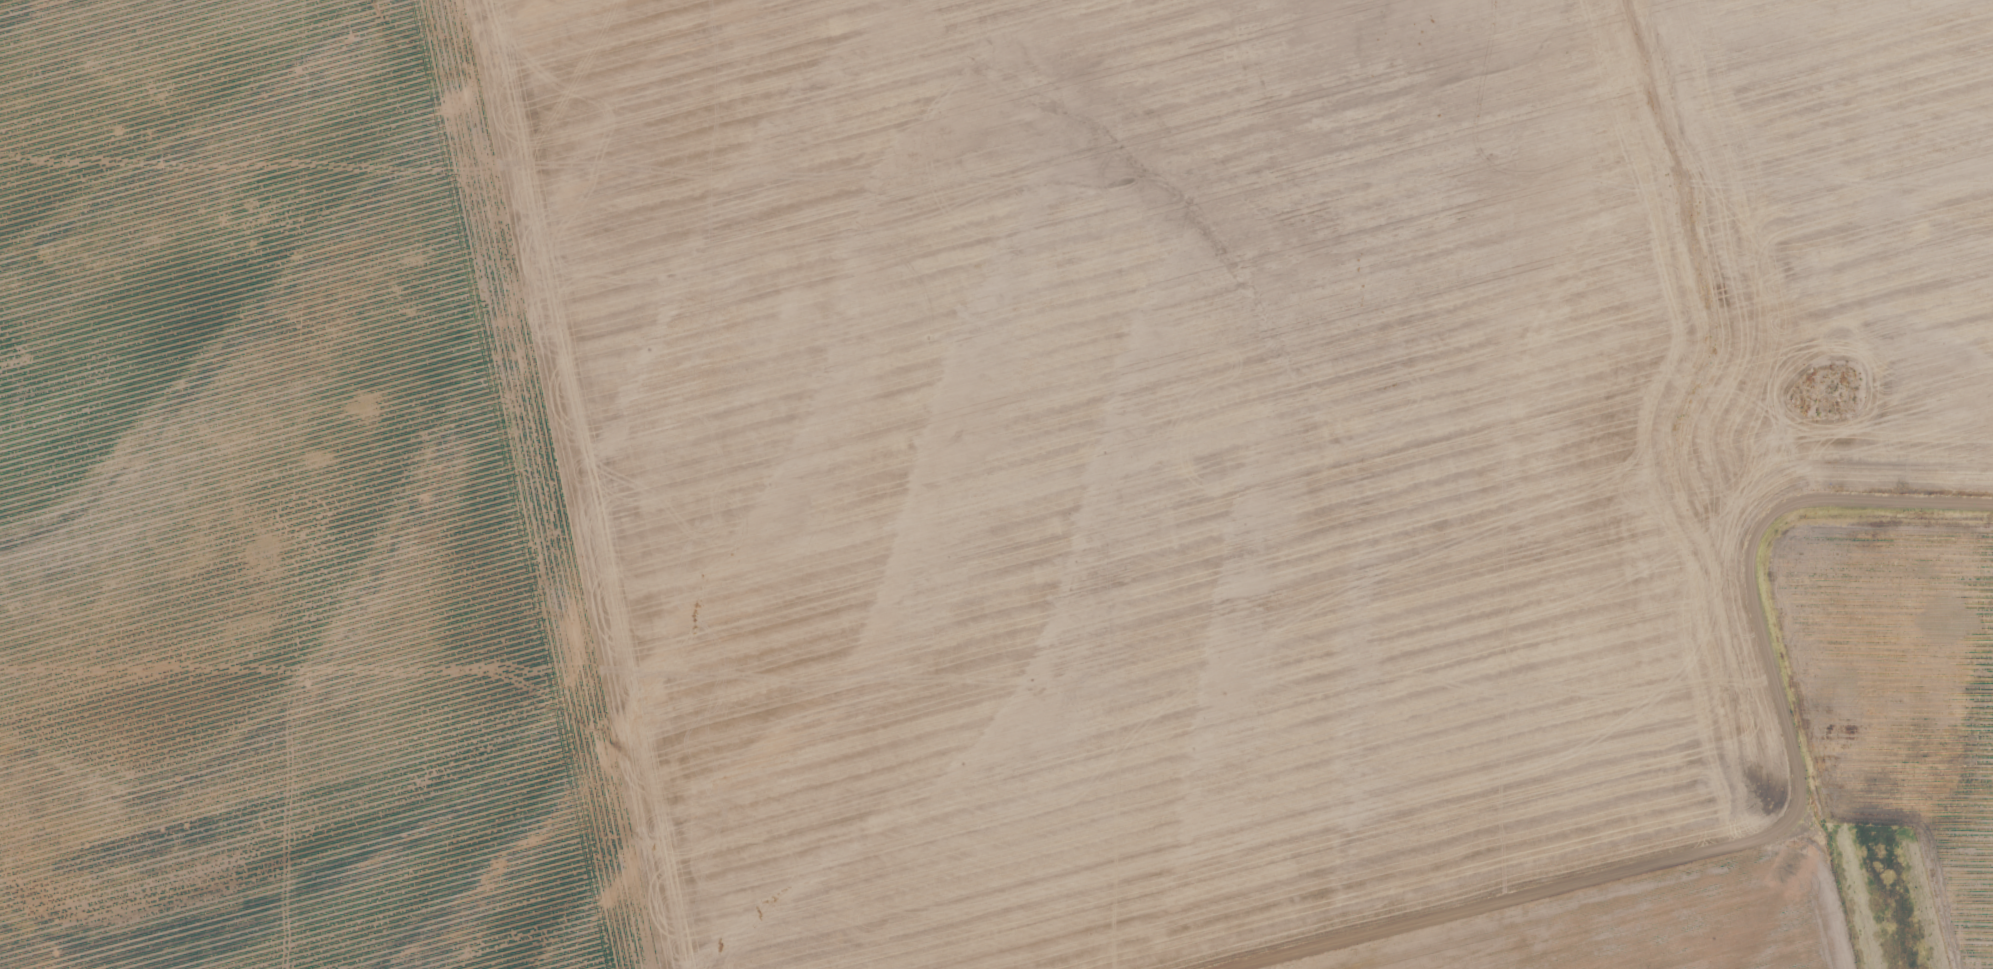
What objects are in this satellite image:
road: (1728, 822)

